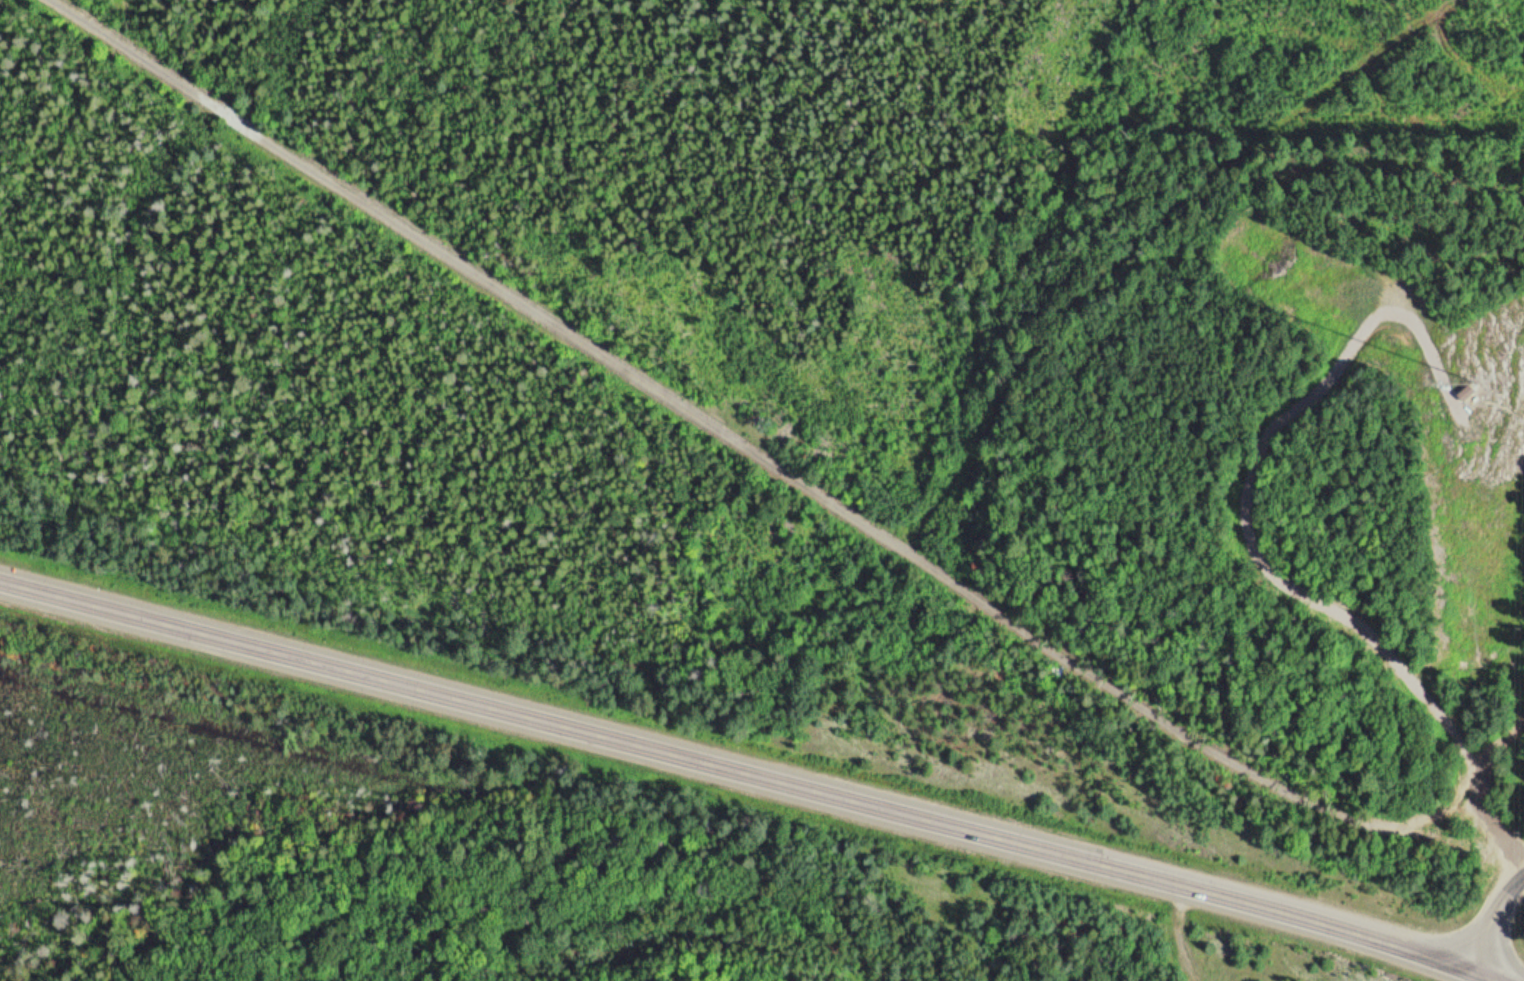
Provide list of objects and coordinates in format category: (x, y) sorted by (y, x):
road: (776, 458)
road: (763, 772)
road: (1496, 914)
road: (1186, 934)

